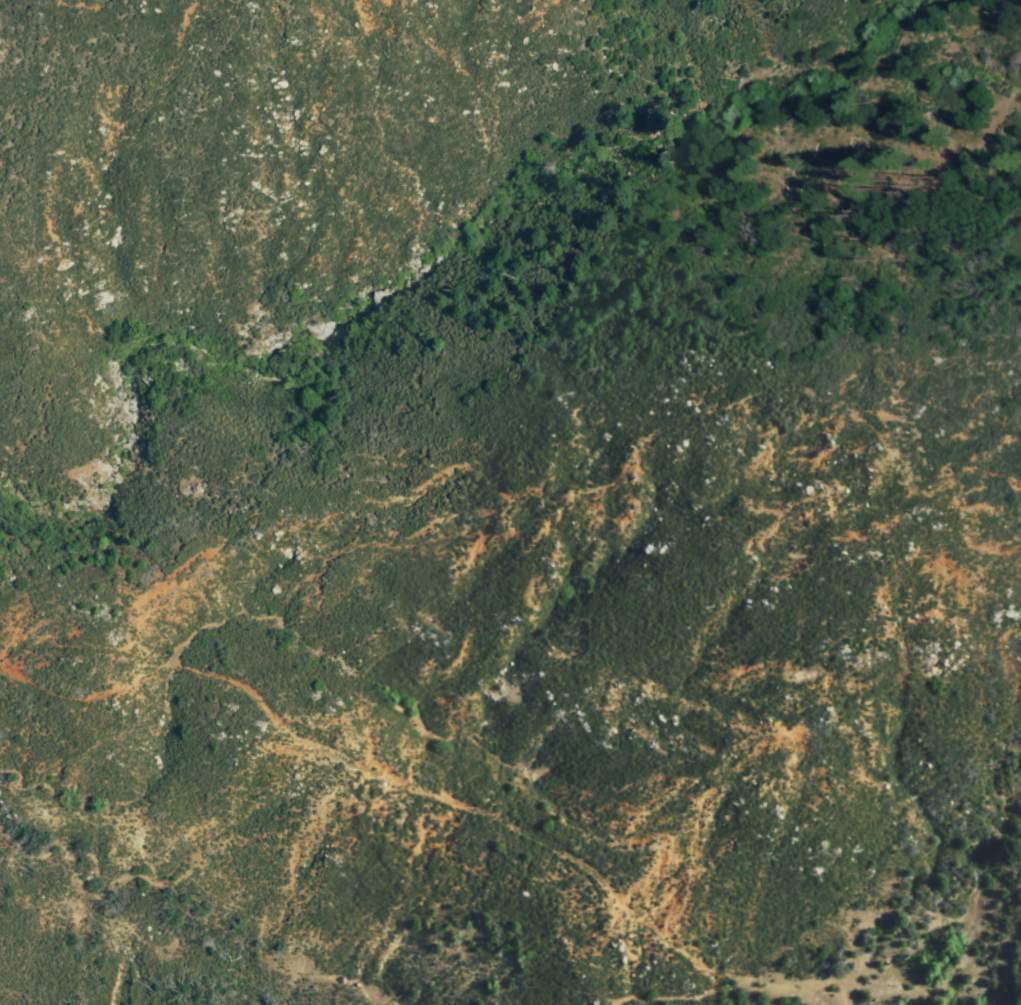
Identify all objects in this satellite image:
road: (390, 781)

